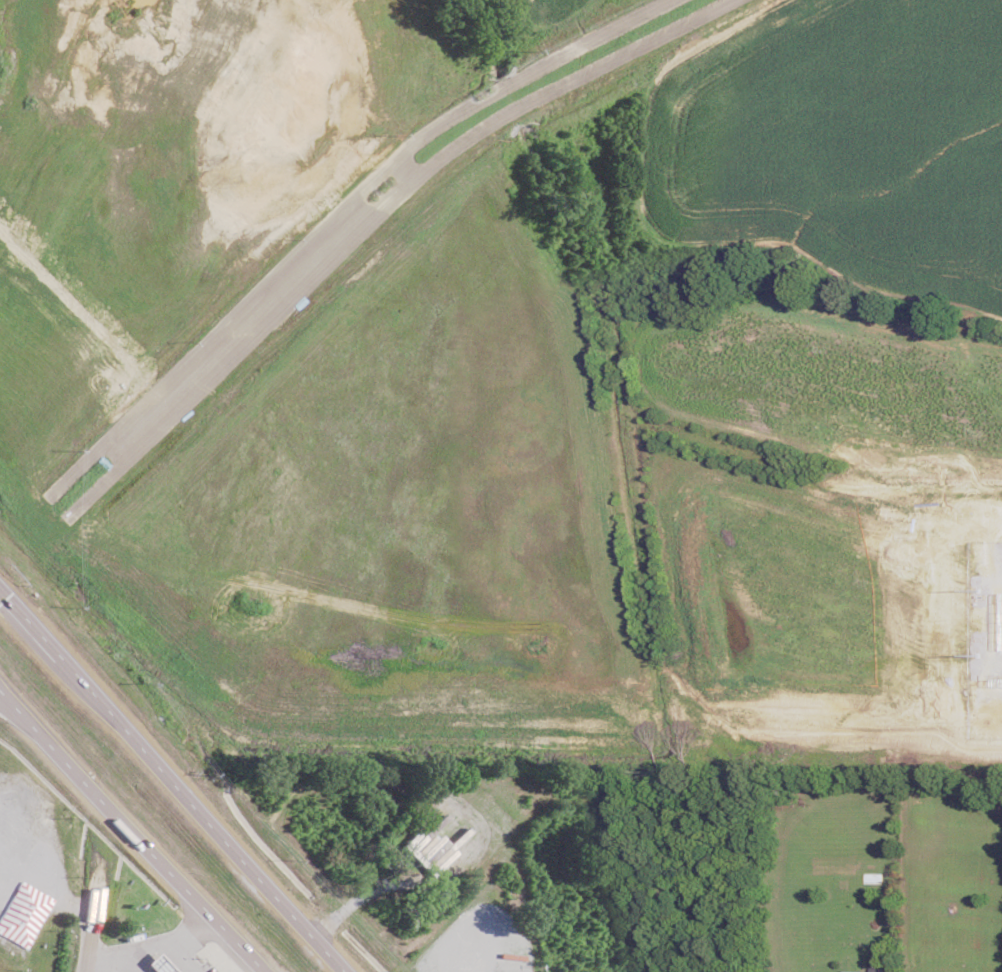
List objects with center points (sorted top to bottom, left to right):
power substation: (983, 639)
road: (66, 664)
road: (11, 710)
road: (20, 711)
road: (151, 854)
road: (239, 855)
road: (45, 890)
road: (90, 924)
road: (168, 937)
road: (179, 956)
road: (113, 962)
building: (159, 963)
gas station: (159, 963)
building: (873, 966)

